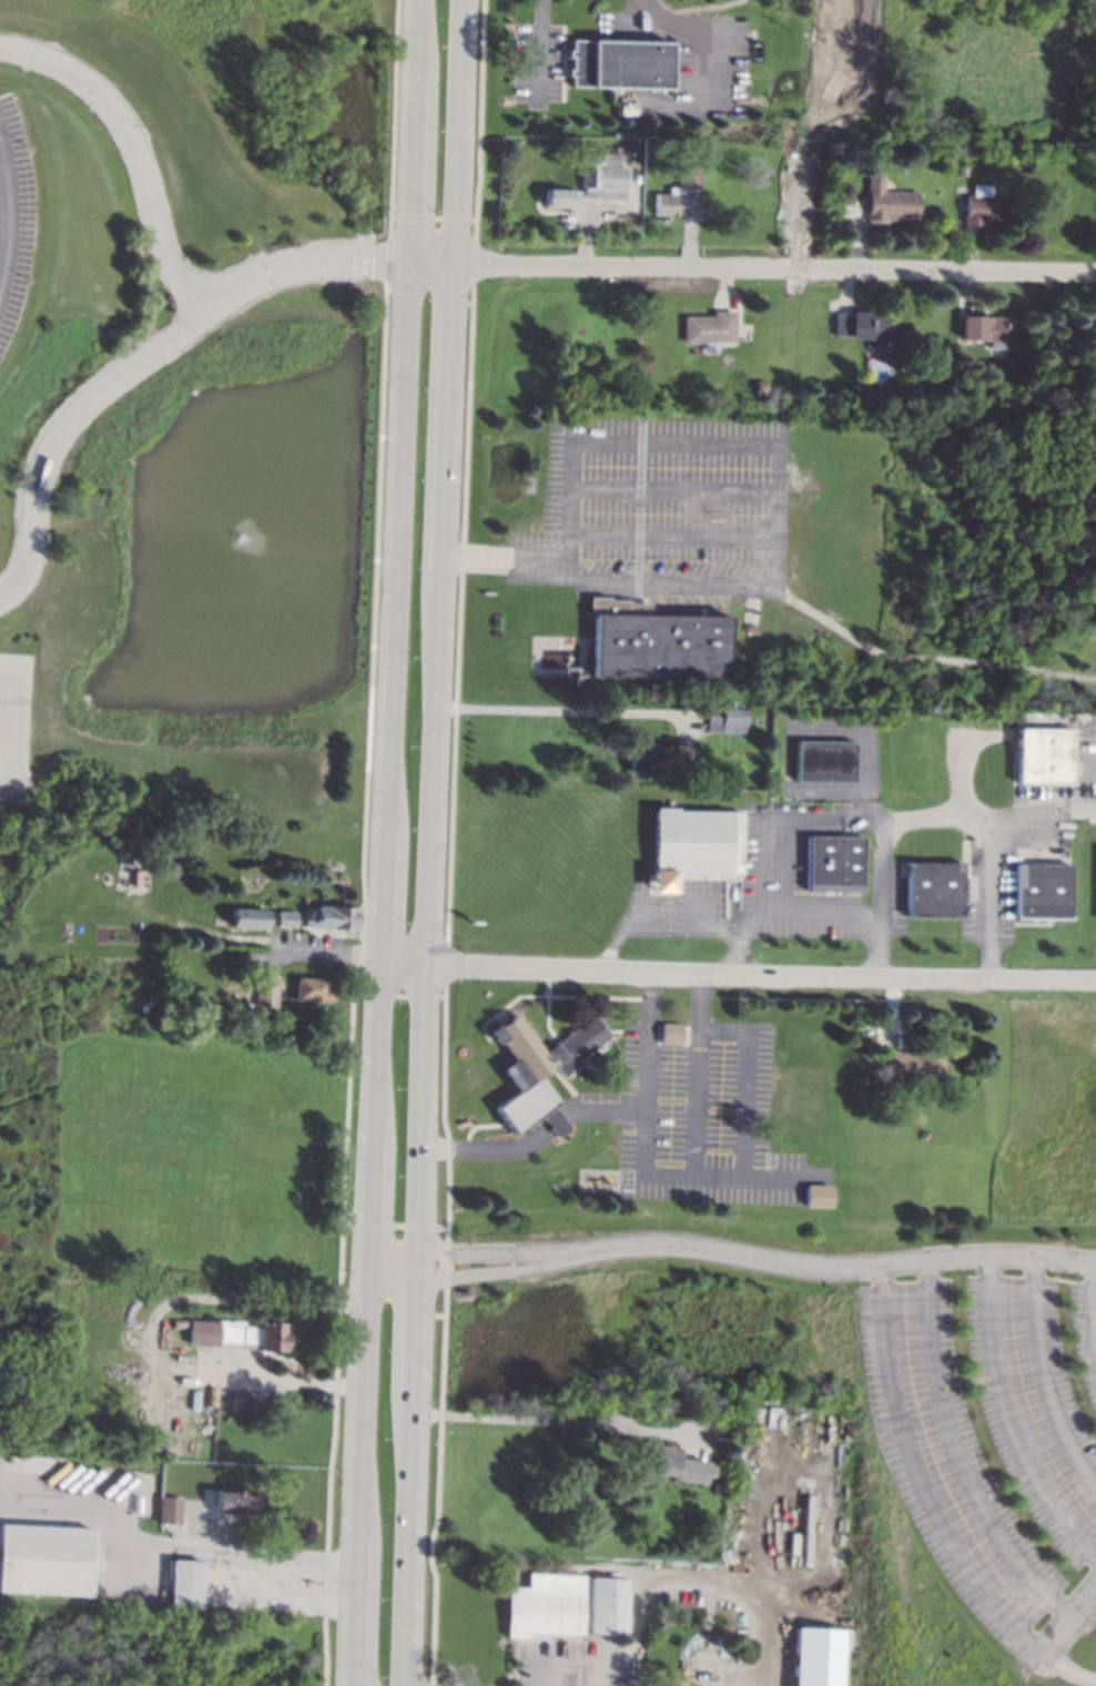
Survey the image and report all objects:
road: (637, 11)
road: (415, 40)
road: (538, 53)
parking lot: (536, 62)
parking lot: (684, 62)
building: (617, 63)
road: (457, 131)
road: (134, 150)
building: (943, 164)
building: (954, 167)
road: (409, 171)
building: (599, 177)
building: (677, 191)
building: (557, 197)
building: (886, 201)
building: (981, 205)
road: (6, 212)
parking lot: (12, 216)
road: (301, 261)
road: (428, 262)
road: (774, 267)
building: (863, 326)
building: (709, 327)
building: (984, 329)
building: (983, 357)
building: (761, 385)
building: (977, 389)
building: (1095, 396)
road: (62, 425)
road: (681, 441)
road: (673, 491)
parking lot: (664, 511)
road: (673, 539)
road: (504, 561)
road: (670, 583)
building: (657, 641)
road: (926, 662)
building: (580, 679)
road: (19, 693)
road: (531, 712)
building: (725, 718)
parking lot: (12, 722)
road: (8, 728)
building: (1042, 755)
building: (638, 756)
building: (824, 762)
road: (8, 776)
road: (937, 820)
building: (692, 845)
road: (773, 845)
road: (991, 850)
building: (832, 862)
building: (933, 888)
building: (1042, 892)
road: (884, 903)
road: (829, 916)
building: (247, 917)
building: (333, 917)
building: (284, 918)
road: (729, 927)
road: (619, 937)
road: (327, 957)
road: (376, 973)
road: (425, 974)
road: (735, 974)
building: (311, 989)
building: (264, 991)
building: (669, 1033)
building: (910, 1064)
building: (539, 1069)
road: (698, 1075)
road: (745, 1080)
building: (799, 1083)
building: (804, 1103)
parking lot: (680, 1111)
road: (535, 1135)
road: (642, 1150)
building: (816, 1195)
road: (469, 1256)
road: (834, 1268)
road: (469, 1271)
building: (250, 1333)
road: (1043, 1377)
building: (209, 1391)
road: (1011, 1414)
road: (552, 1420)
parking lot: (994, 1444)
road: (954, 1454)
building: (673, 1464)
building: (717, 1487)
building: (231, 1499)
building: (166, 1509)
road: (937, 1512)
road: (154, 1547)
building: (44, 1558)
road: (682, 1580)
building: (183, 1583)
building: (542, 1605)
building: (607, 1605)
building: (814, 1657)
road: (1078, 1673)

